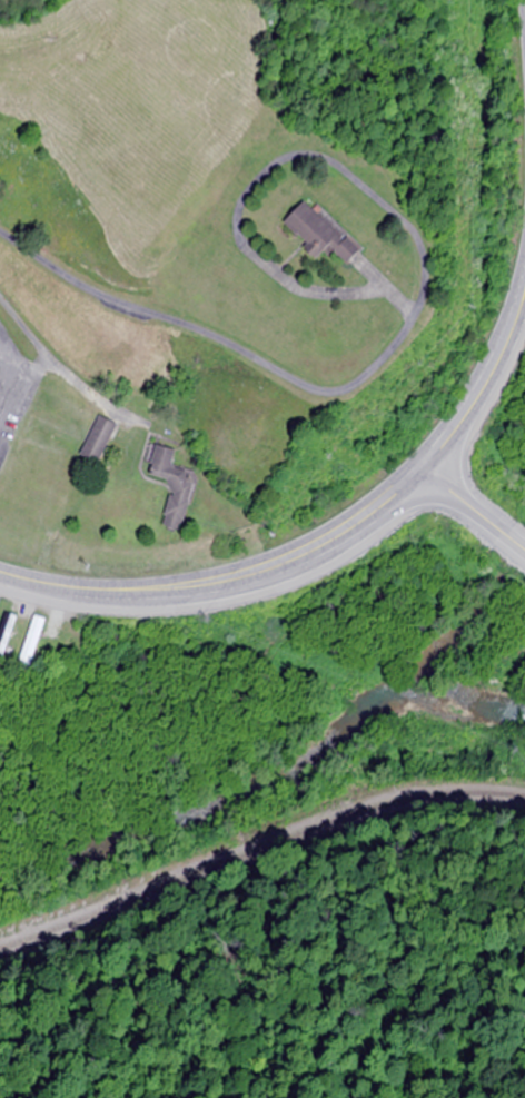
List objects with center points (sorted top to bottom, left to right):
building: (314, 234)
road: (483, 387)
building: (95, 441)
building: (168, 487)
road: (474, 508)
river: (515, 558)
road: (225, 575)
river: (450, 624)
building: (6, 635)
building: (32, 639)
river: (278, 783)
railway: (256, 842)

